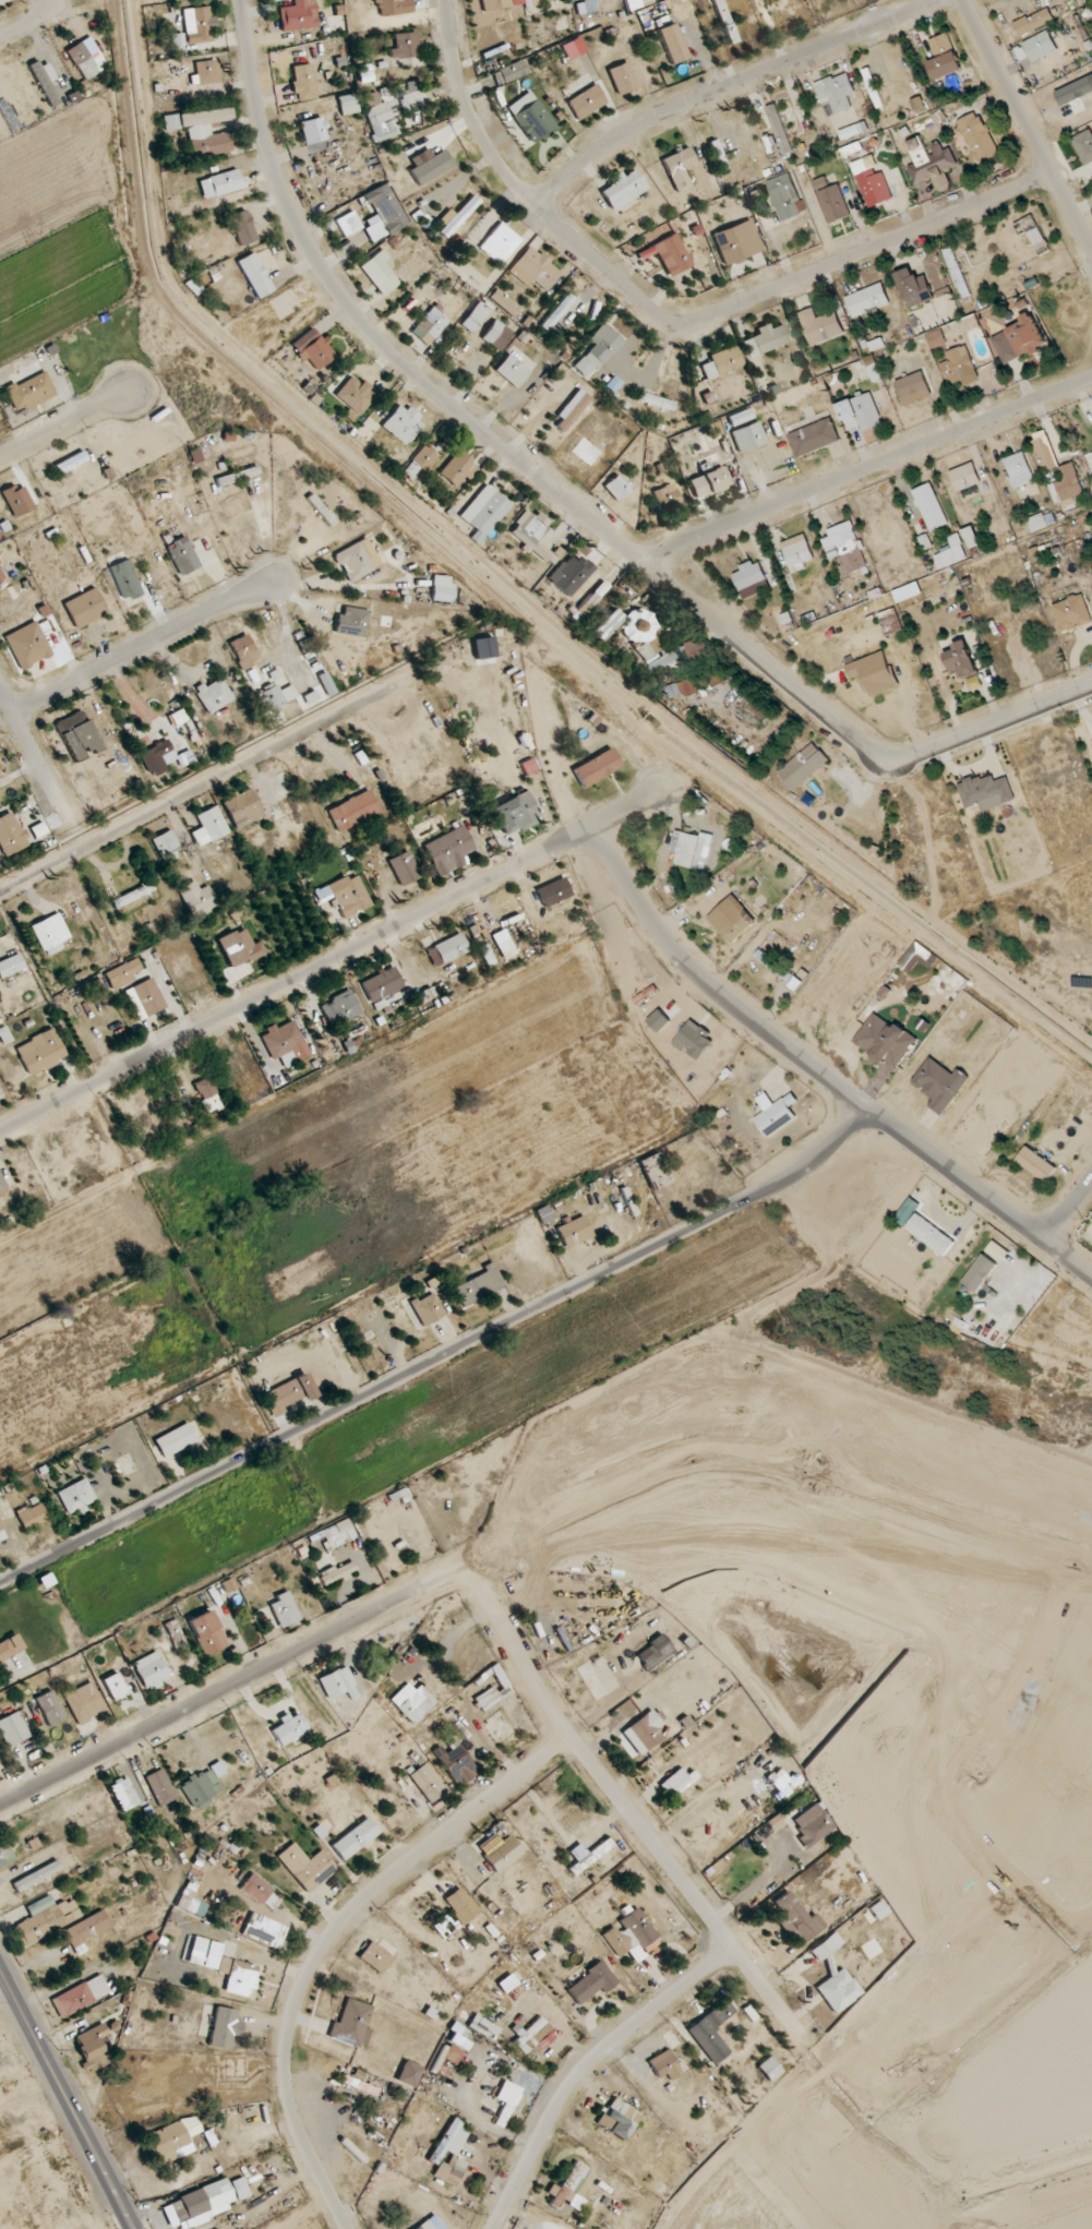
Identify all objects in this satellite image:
building: (641, 0)
building: (493, 4)
building: (393, 7)
building: (298, 15)
building: (661, 20)
building: (724, 21)
building: (1033, 22)
road: (26, 23)
building: (178, 44)
building: (405, 46)
building: (1040, 46)
building: (944, 57)
building: (86, 58)
building: (512, 71)
building: (207, 72)
building: (365, 74)
building: (622, 79)
building: (45, 82)
building: (303, 82)
road: (730, 83)
building: (873, 88)
building: (836, 92)
building: (371, 98)
building: (586, 101)
building: (348, 104)
building: (531, 117)
building: (381, 121)
road: (1028, 123)
building: (202, 128)
building: (779, 129)
building: (313, 130)
building: (845, 134)
building: (977, 136)
building: (1084, 146)
building: (931, 163)
building: (429, 165)
building: (679, 168)
building: (220, 183)
building: (623, 188)
building: (875, 188)
building: (785, 196)
building: (832, 201)
building: (383, 213)
building: (456, 216)
building: (348, 224)
building: (242, 227)
building: (1034, 232)
building: (736, 242)
building: (500, 243)
building: (672, 254)
building: (535, 269)
building: (957, 272)
building: (380, 273)
building: (254, 275)
building: (936, 278)
building: (914, 287)
building: (867, 300)
building: (503, 302)
building: (556, 312)
building: (476, 316)
road: (673, 320)
building: (430, 325)
building: (820, 325)
building: (496, 335)
building: (1027, 335)
building: (937, 338)
building: (765, 339)
building: (1005, 347)
building: (597, 350)
building: (317, 352)
building: (722, 361)
building: (957, 365)
building: (512, 370)
building: (913, 388)
building: (29, 392)
building: (355, 395)
building: (708, 396)
building: (655, 400)
building: (572, 410)
building: (860, 412)
building: (740, 417)
road: (64, 423)
building: (403, 423)
building: (748, 436)
building: (814, 438)
building: (1091, 452)
building: (420, 462)
building: (70, 463)
building: (458, 468)
building: (1018, 469)
road: (866, 470)
building: (1057, 472)
building: (238, 476)
building: (964, 477)
building: (708, 482)
building: (616, 488)
building: (665, 496)
building: (17, 500)
road: (573, 501)
building: (931, 506)
building: (321, 510)
building: (484, 512)
building: (1041, 522)
road: (266, 532)
building: (532, 535)
building: (971, 537)
building: (847, 547)
building: (797, 551)
building: (182, 555)
building: (950, 555)
building: (357, 560)
building: (748, 575)
building: (1, 577)
building: (124, 579)
building: (442, 588)
building: (591, 588)
building: (755, 589)
building: (908, 591)
building: (85, 608)
building: (1072, 612)
building: (351, 622)
building: (605, 624)
building: (649, 643)
building: (27, 645)
road: (142, 645)
building: (243, 651)
road: (1077, 659)
building: (961, 660)
building: (874, 672)
building: (325, 684)
building: (688, 687)
building: (214, 695)
building: (275, 697)
building: (73, 729)
road: (35, 756)
building: (159, 758)
building: (803, 766)
building: (596, 768)
road: (203, 784)
building: (986, 792)
building: (242, 807)
building: (352, 811)
building: (514, 814)
building: (209, 826)
building: (11, 835)
building: (166, 846)
building: (692, 849)
building: (448, 850)
building: (404, 867)
building: (554, 891)
building: (345, 895)
building: (132, 896)
building: (196, 898)
building: (735, 926)
building: (476, 933)
building: (49, 934)
building: (503, 944)
building: (239, 947)
building: (446, 949)
building: (485, 955)
road: (331, 959)
building: (11, 966)
building: (778, 969)
building: (122, 974)
building: (381, 984)
building: (144, 998)
building: (339, 1008)
building: (4, 1035)
building: (886, 1041)
building: (285, 1043)
building: (39, 1052)
road: (820, 1072)
building: (939, 1084)
building: (206, 1095)
building: (776, 1113)
building: (1035, 1163)
building: (655, 1171)
building: (2, 1186)
road: (1069, 1209)
building: (907, 1211)
building: (543, 1214)
building: (574, 1232)
building: (929, 1234)
building: (997, 1251)
building: (979, 1272)
building: (479, 1285)
building: (427, 1309)
road: (440, 1357)
building: (289, 1393)
building: (175, 1440)
building: (75, 1497)
building: (32, 1517)
building: (0, 1527)
building: (338, 1533)
building: (336, 1573)
building: (232, 1592)
building: (284, 1610)
building: (175, 1633)
building: (206, 1633)
building: (10, 1647)
building: (653, 1652)
building: (151, 1670)
building: (337, 1685)
building: (113, 1686)
road: (218, 1691)
building: (494, 1691)
building: (83, 1702)
building: (412, 1702)
building: (49, 1707)
building: (288, 1728)
building: (13, 1729)
building: (644, 1733)
building: (455, 1763)
building: (219, 1771)
building: (772, 1781)
building: (677, 1782)
building: (427, 1783)
building: (160, 1787)
building: (201, 1788)
building: (124, 1794)
building: (813, 1824)
road: (644, 1831)
building: (353, 1838)
building: (33, 1844)
building: (4, 1854)
building: (502, 1854)
building: (586, 1855)
building: (305, 1867)
building: (36, 1876)
building: (260, 1892)
building: (190, 1903)
building: (460, 1905)
building: (878, 1909)
building: (45, 1919)
building: (793, 1919)
building: (87, 1928)
building: (264, 1930)
building: (632, 1936)
road: (326, 1938)
building: (213, 1955)
building: (374, 1957)
building: (238, 1975)
building: (835, 1979)
building: (507, 1984)
building: (591, 1984)
building: (80, 1996)
building: (352, 2024)
building: (483, 2027)
building: (224, 2028)
building: (711, 2032)
building: (531, 2035)
building: (544, 2040)
building: (458, 2041)
building: (91, 2047)
building: (451, 2054)
road: (585, 2065)
building: (664, 2065)
building: (769, 2069)
building: (409, 2074)
road: (67, 2096)
building: (506, 2102)
building: (617, 2119)
building: (175, 2138)
building: (449, 2154)
building: (568, 2188)
building: (240, 2189)
building: (197, 2205)
building: (424, 2226)

